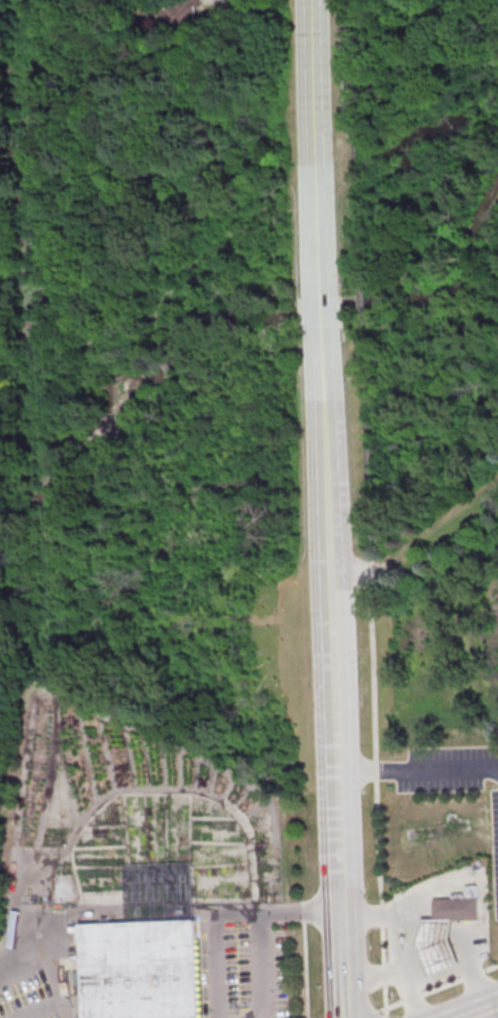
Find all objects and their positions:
building: (183, 12)
road: (346, 65)
road: (314, 148)
river: (478, 232)
river: (353, 311)
road: (320, 314)
road: (363, 340)
road: (323, 402)
road: (327, 524)
road: (443, 527)
road: (357, 573)
road: (176, 620)
road: (4, 622)
road: (333, 711)
road: (417, 769)
parking lot: (446, 769)
road: (376, 785)
parking lot: (495, 841)
road: (339, 878)
building: (157, 879)
building: (459, 906)
road: (300, 911)
road: (341, 924)
road: (400, 937)
building: (437, 946)
parking lot: (243, 960)
building: (136, 968)
road: (46, 969)
road: (261, 972)
road: (372, 972)
road: (343, 978)
road: (441, 986)
parking lot: (26, 999)
road: (494, 1005)
road: (477, 1012)

